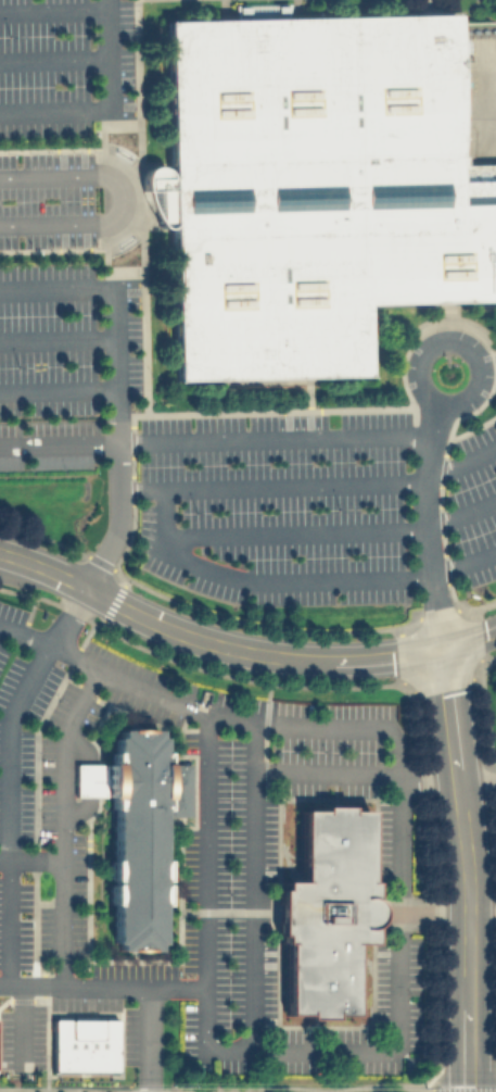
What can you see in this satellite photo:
road: (51, 11)
road: (52, 59)
parking lot: (64, 65)
road: (488, 93)
road: (105, 108)
fountain: (122, 153)
building: (311, 186)
parking lot: (47, 199)
road: (119, 199)
fountain: (122, 244)
road: (111, 309)
road: (55, 338)
road: (449, 340)
road: (487, 357)
parking lot: (62, 360)
road: (56, 388)
road: (193, 439)
road: (58, 442)
road: (459, 461)
road: (269, 484)
parking lot: (314, 506)
road: (421, 524)
road: (332, 530)
road: (297, 579)
road: (26, 636)
road: (240, 648)
road: (10, 714)
road: (80, 743)
road: (64, 762)
road: (447, 777)
road: (89, 779)
road: (78, 812)
building: (133, 828)
road: (204, 849)
road: (397, 866)
road: (465, 868)
road: (253, 886)
building: (325, 909)
road: (432, 914)
road: (9, 922)
road: (29, 984)
road: (63, 986)
road: (20, 1026)
building: (84, 1044)

